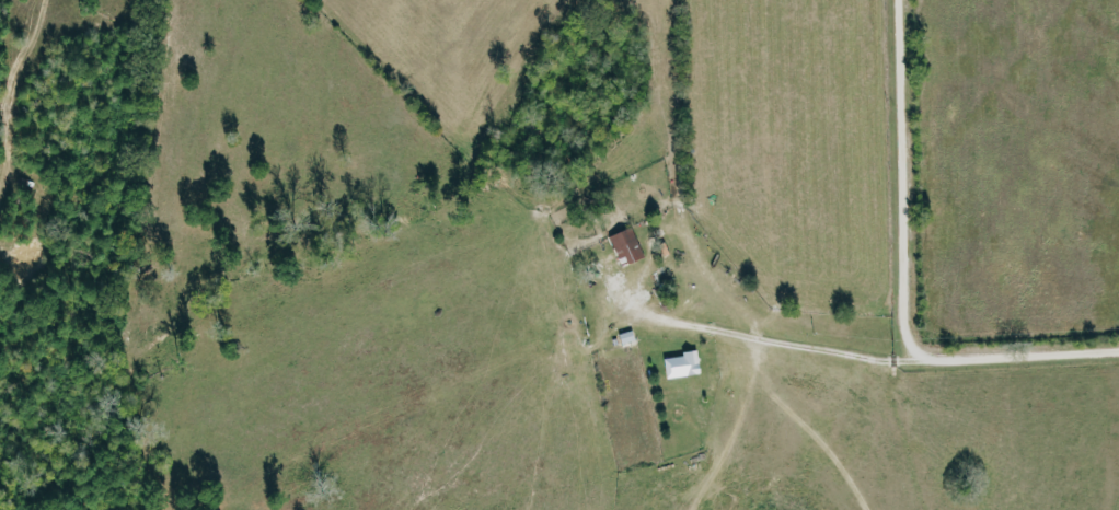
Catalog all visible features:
building: (623, 245)
building: (679, 363)

